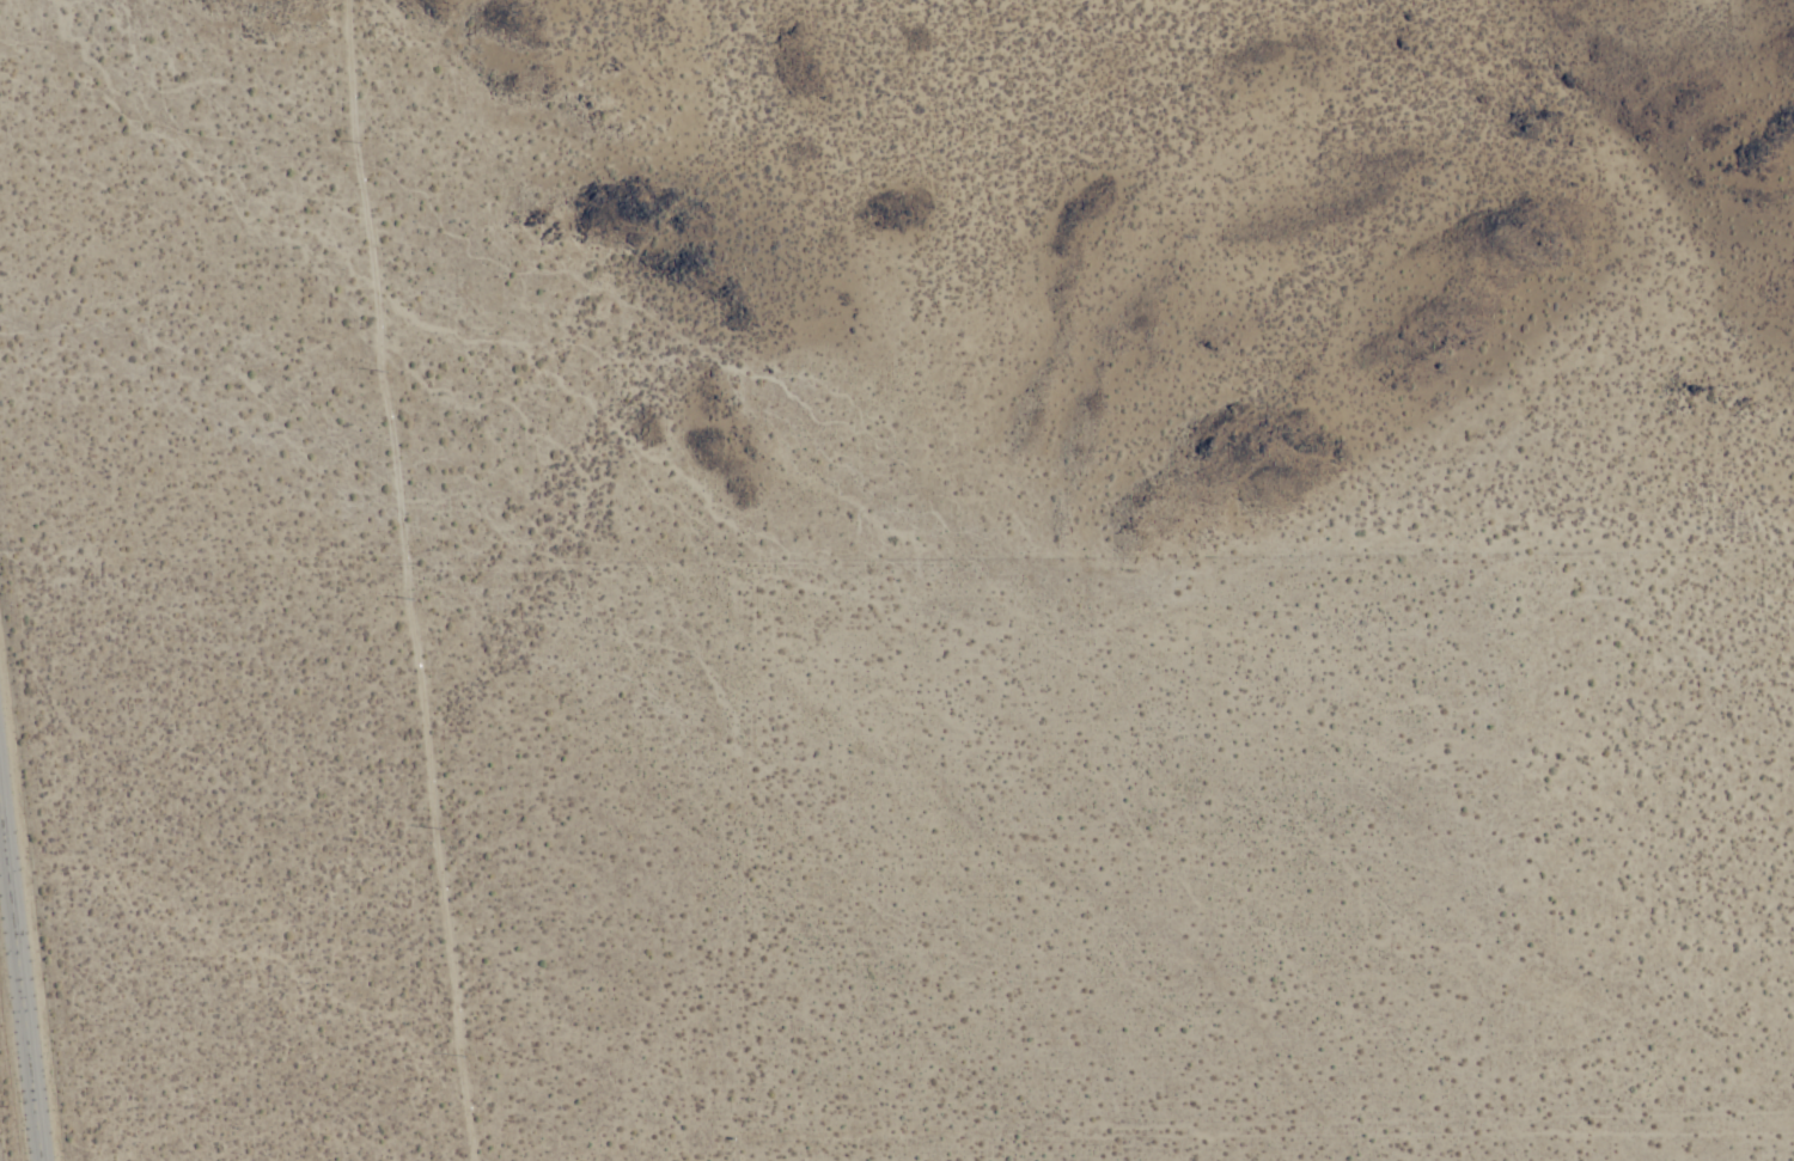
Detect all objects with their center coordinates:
road: (405, 580)
road: (25, 952)

